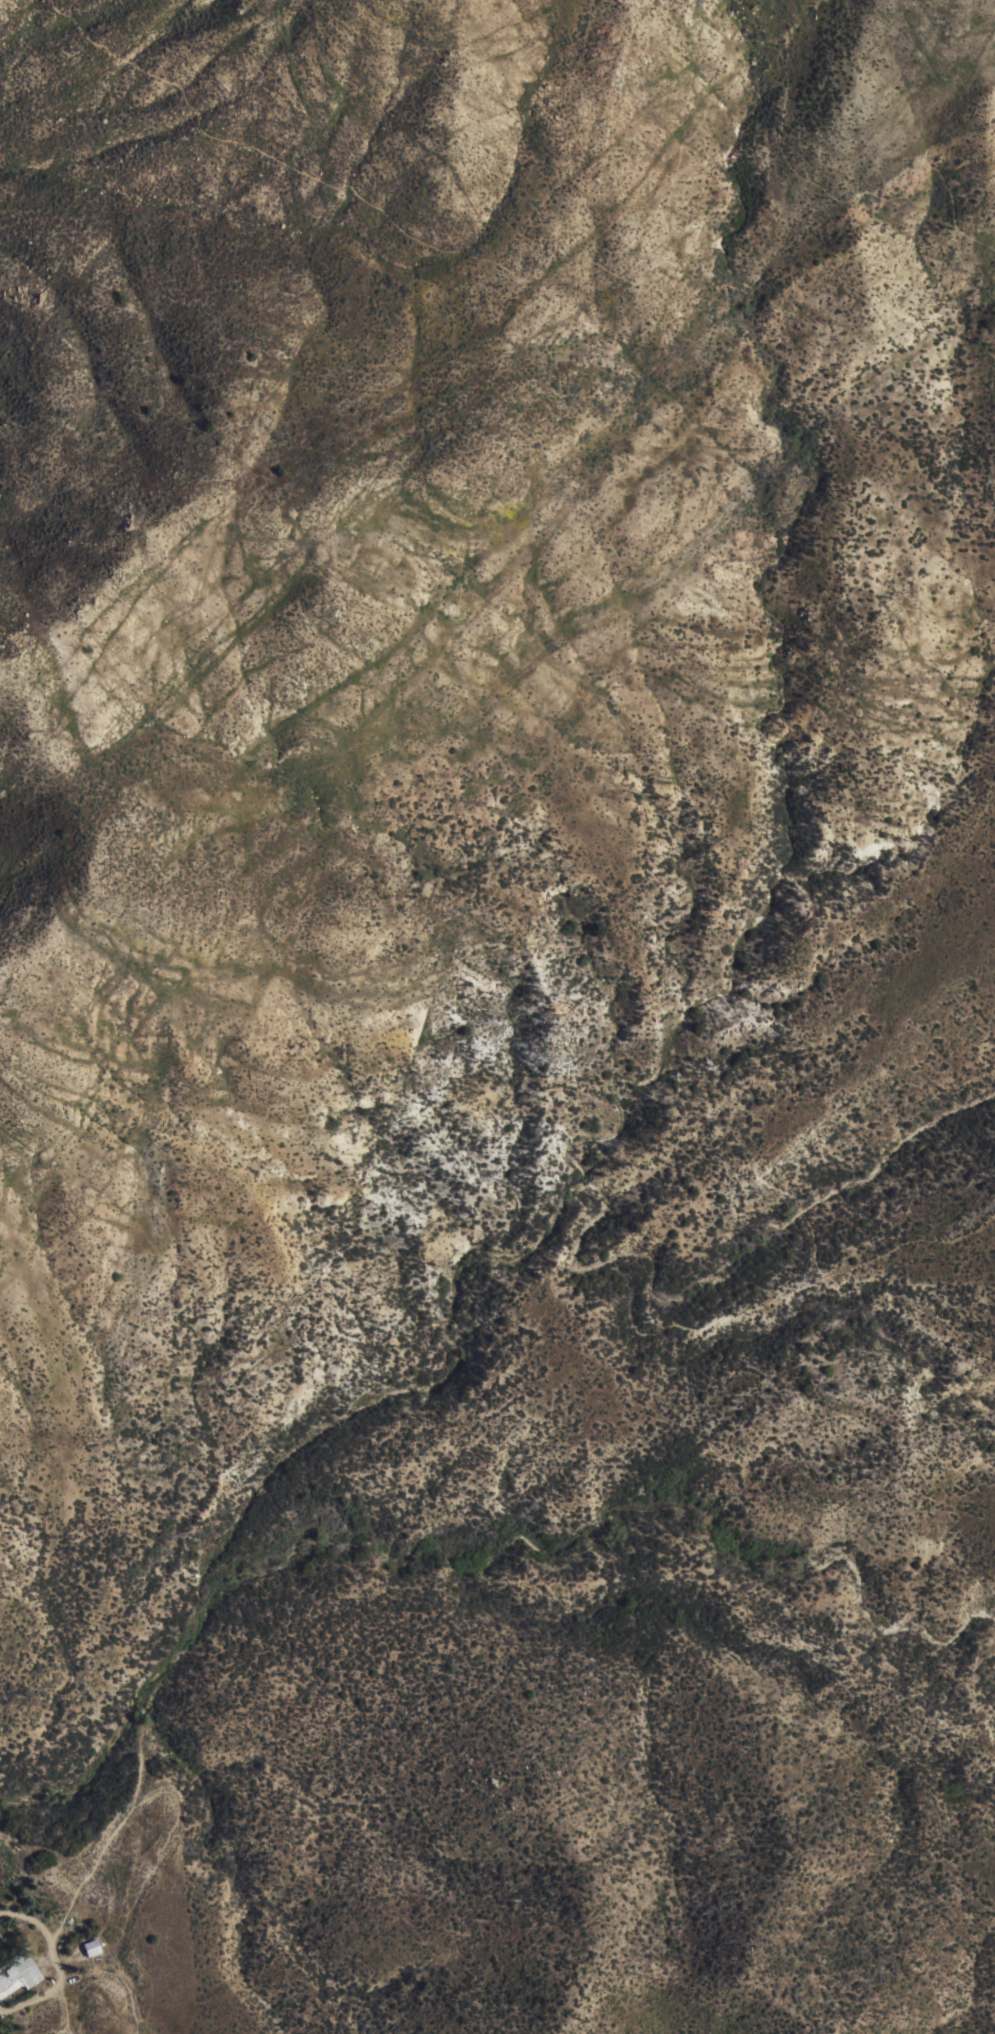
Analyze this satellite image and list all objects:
building: (91, 1948)
road: (55, 1961)
building: (17, 1972)

